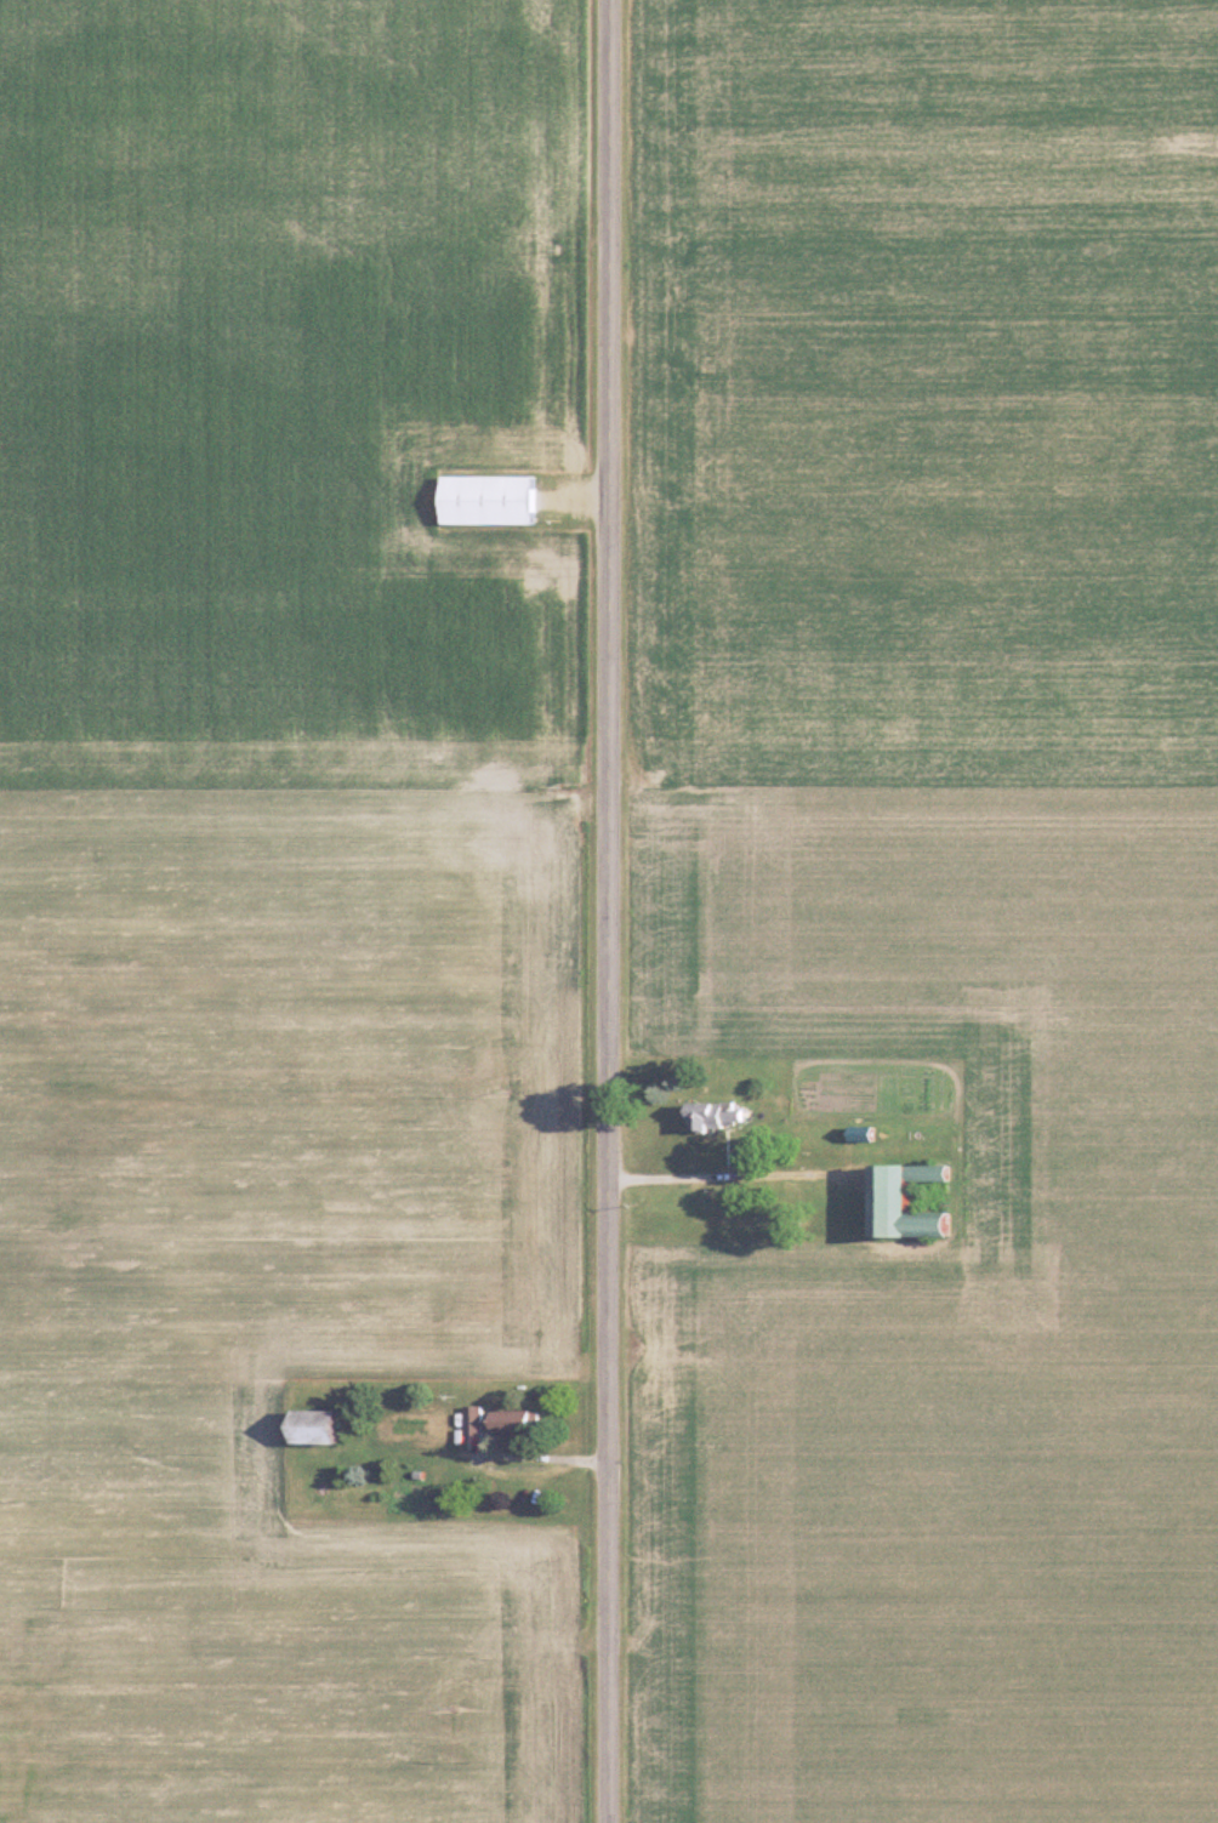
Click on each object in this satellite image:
building: (496, 500)
road: (610, 911)
building: (724, 1116)
building: (870, 1134)
road: (732, 1175)
building: (916, 1203)
building: (505, 1422)
building: (328, 1425)

